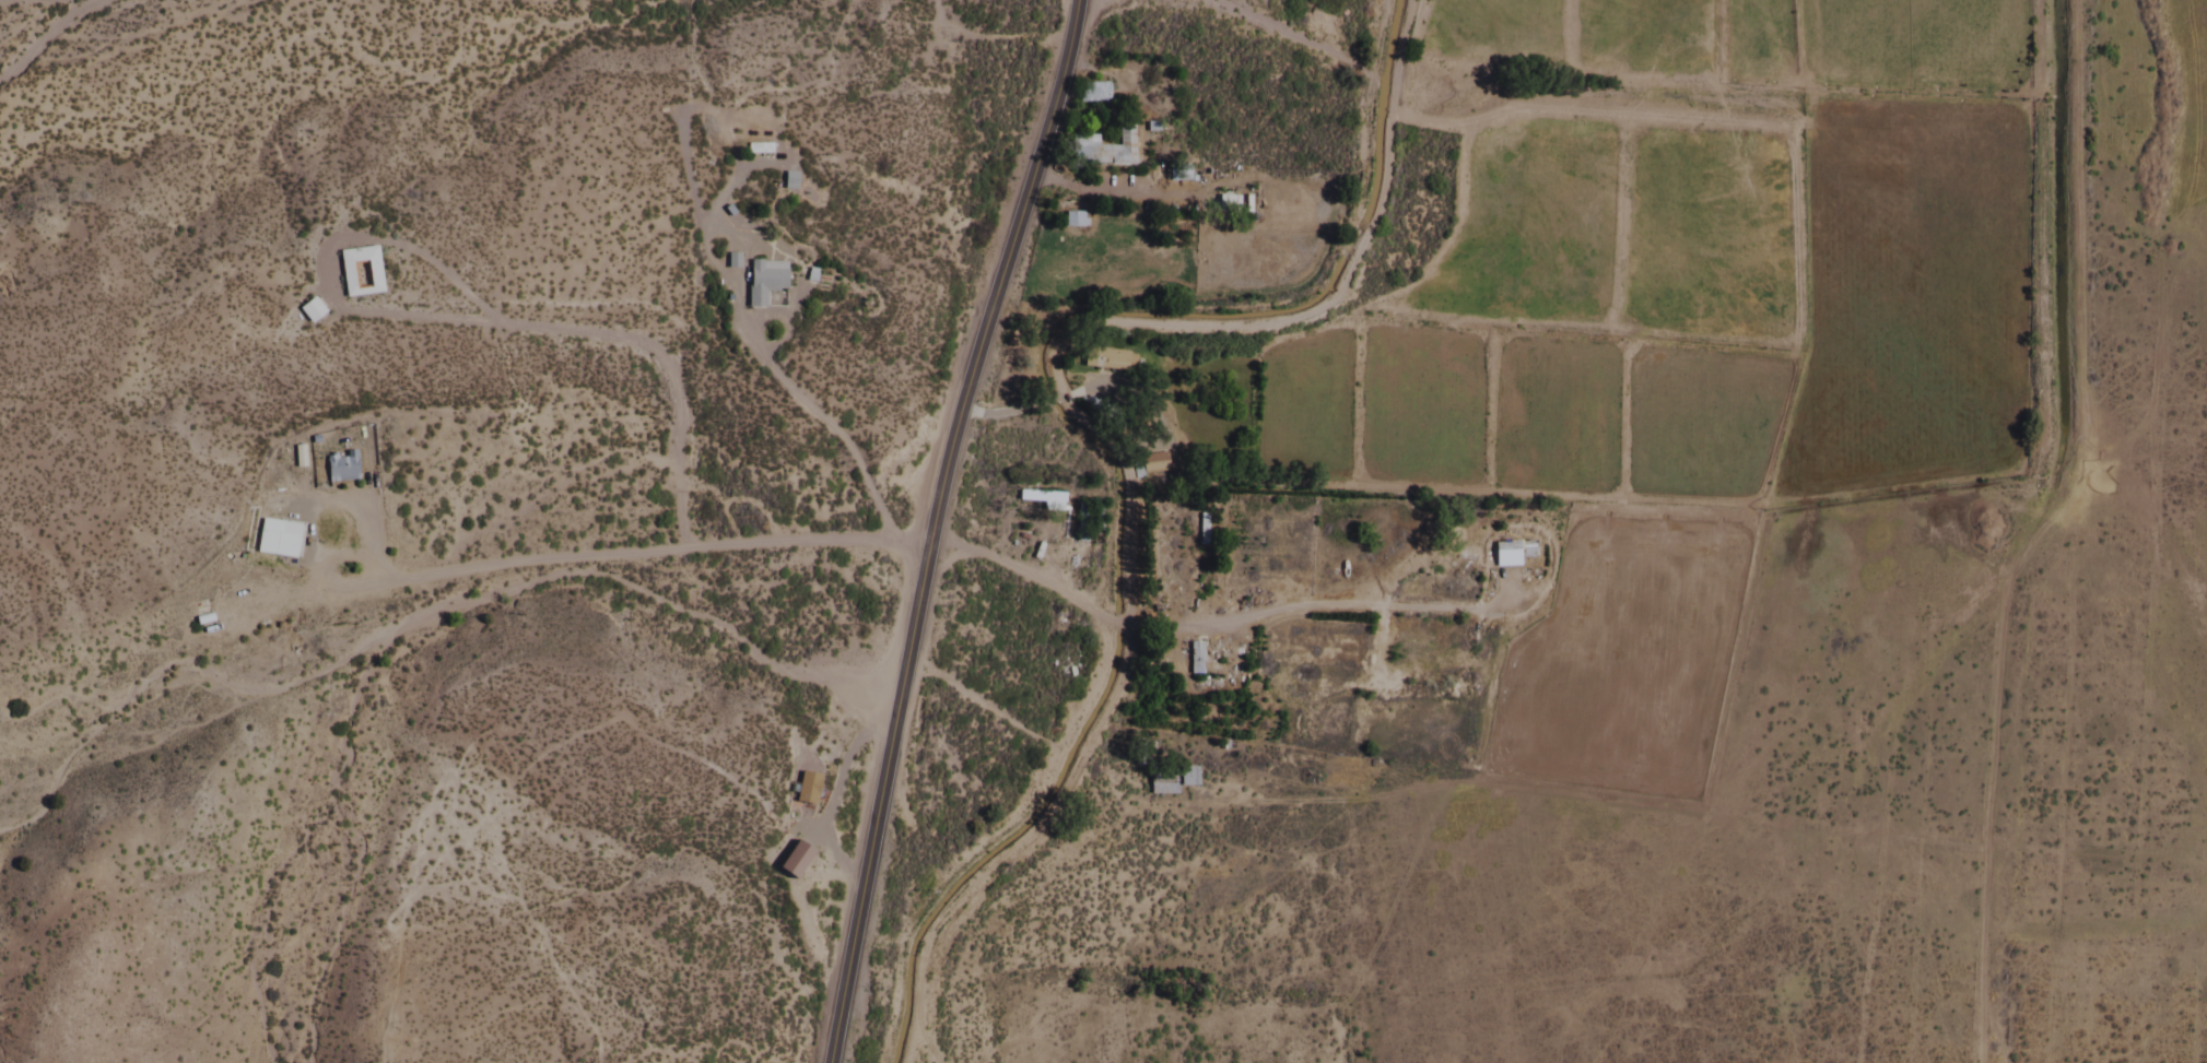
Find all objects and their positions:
building: (1103, 150)
building: (785, 184)
road: (723, 190)
building: (1225, 206)
building: (1071, 222)
building: (729, 263)
building: (356, 274)
building: (761, 283)
road: (1157, 310)
building: (307, 312)
road: (461, 323)
road: (1187, 330)
road: (751, 342)
building: (1459, 347)
building: (1107, 359)
building: (1087, 404)
building: (1151, 464)
building: (340, 469)
building: (1080, 524)
road: (923, 525)
road: (907, 535)
building: (278, 540)
building: (1511, 552)
building: (1199, 665)
road: (973, 708)
building: (1166, 782)
building: (801, 791)
road: (830, 798)
road: (978, 842)
road: (1009, 849)
building: (788, 863)
road: (805, 945)

